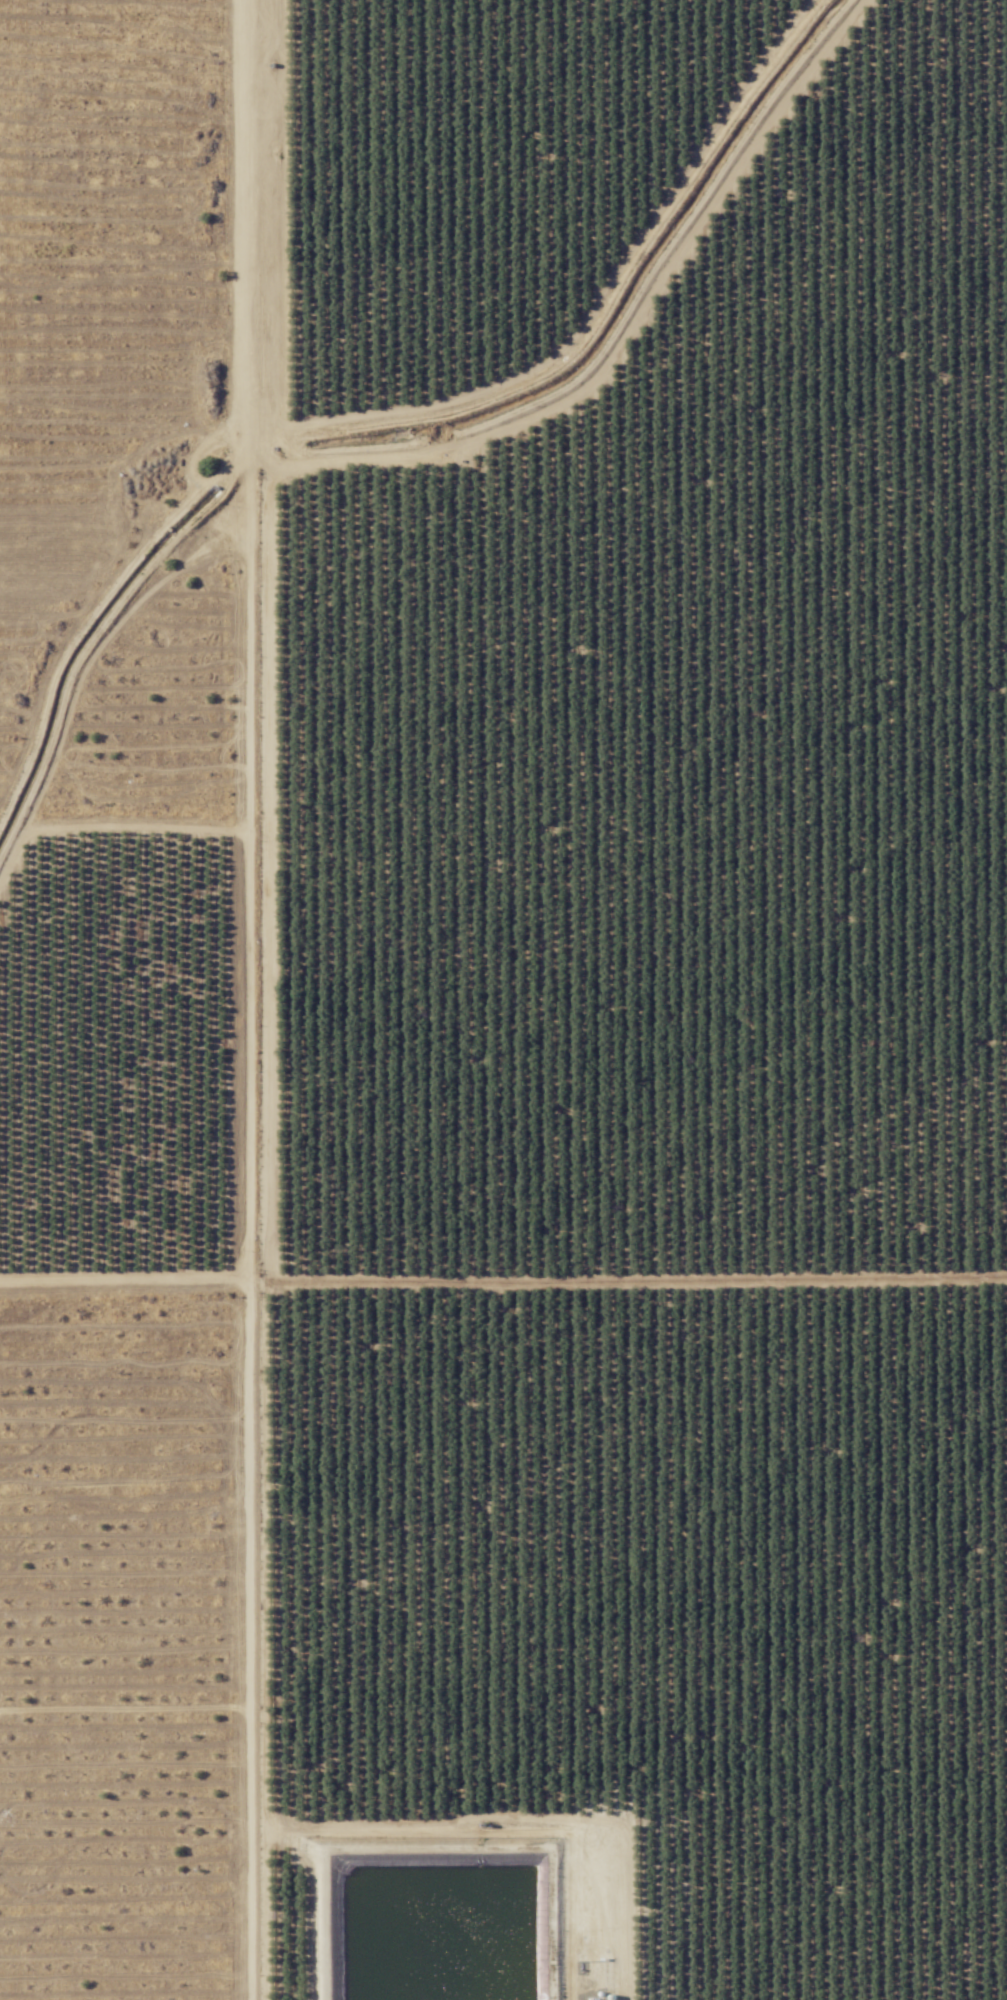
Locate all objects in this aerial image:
road: (250, 999)
road: (629, 1278)
road: (126, 1279)

